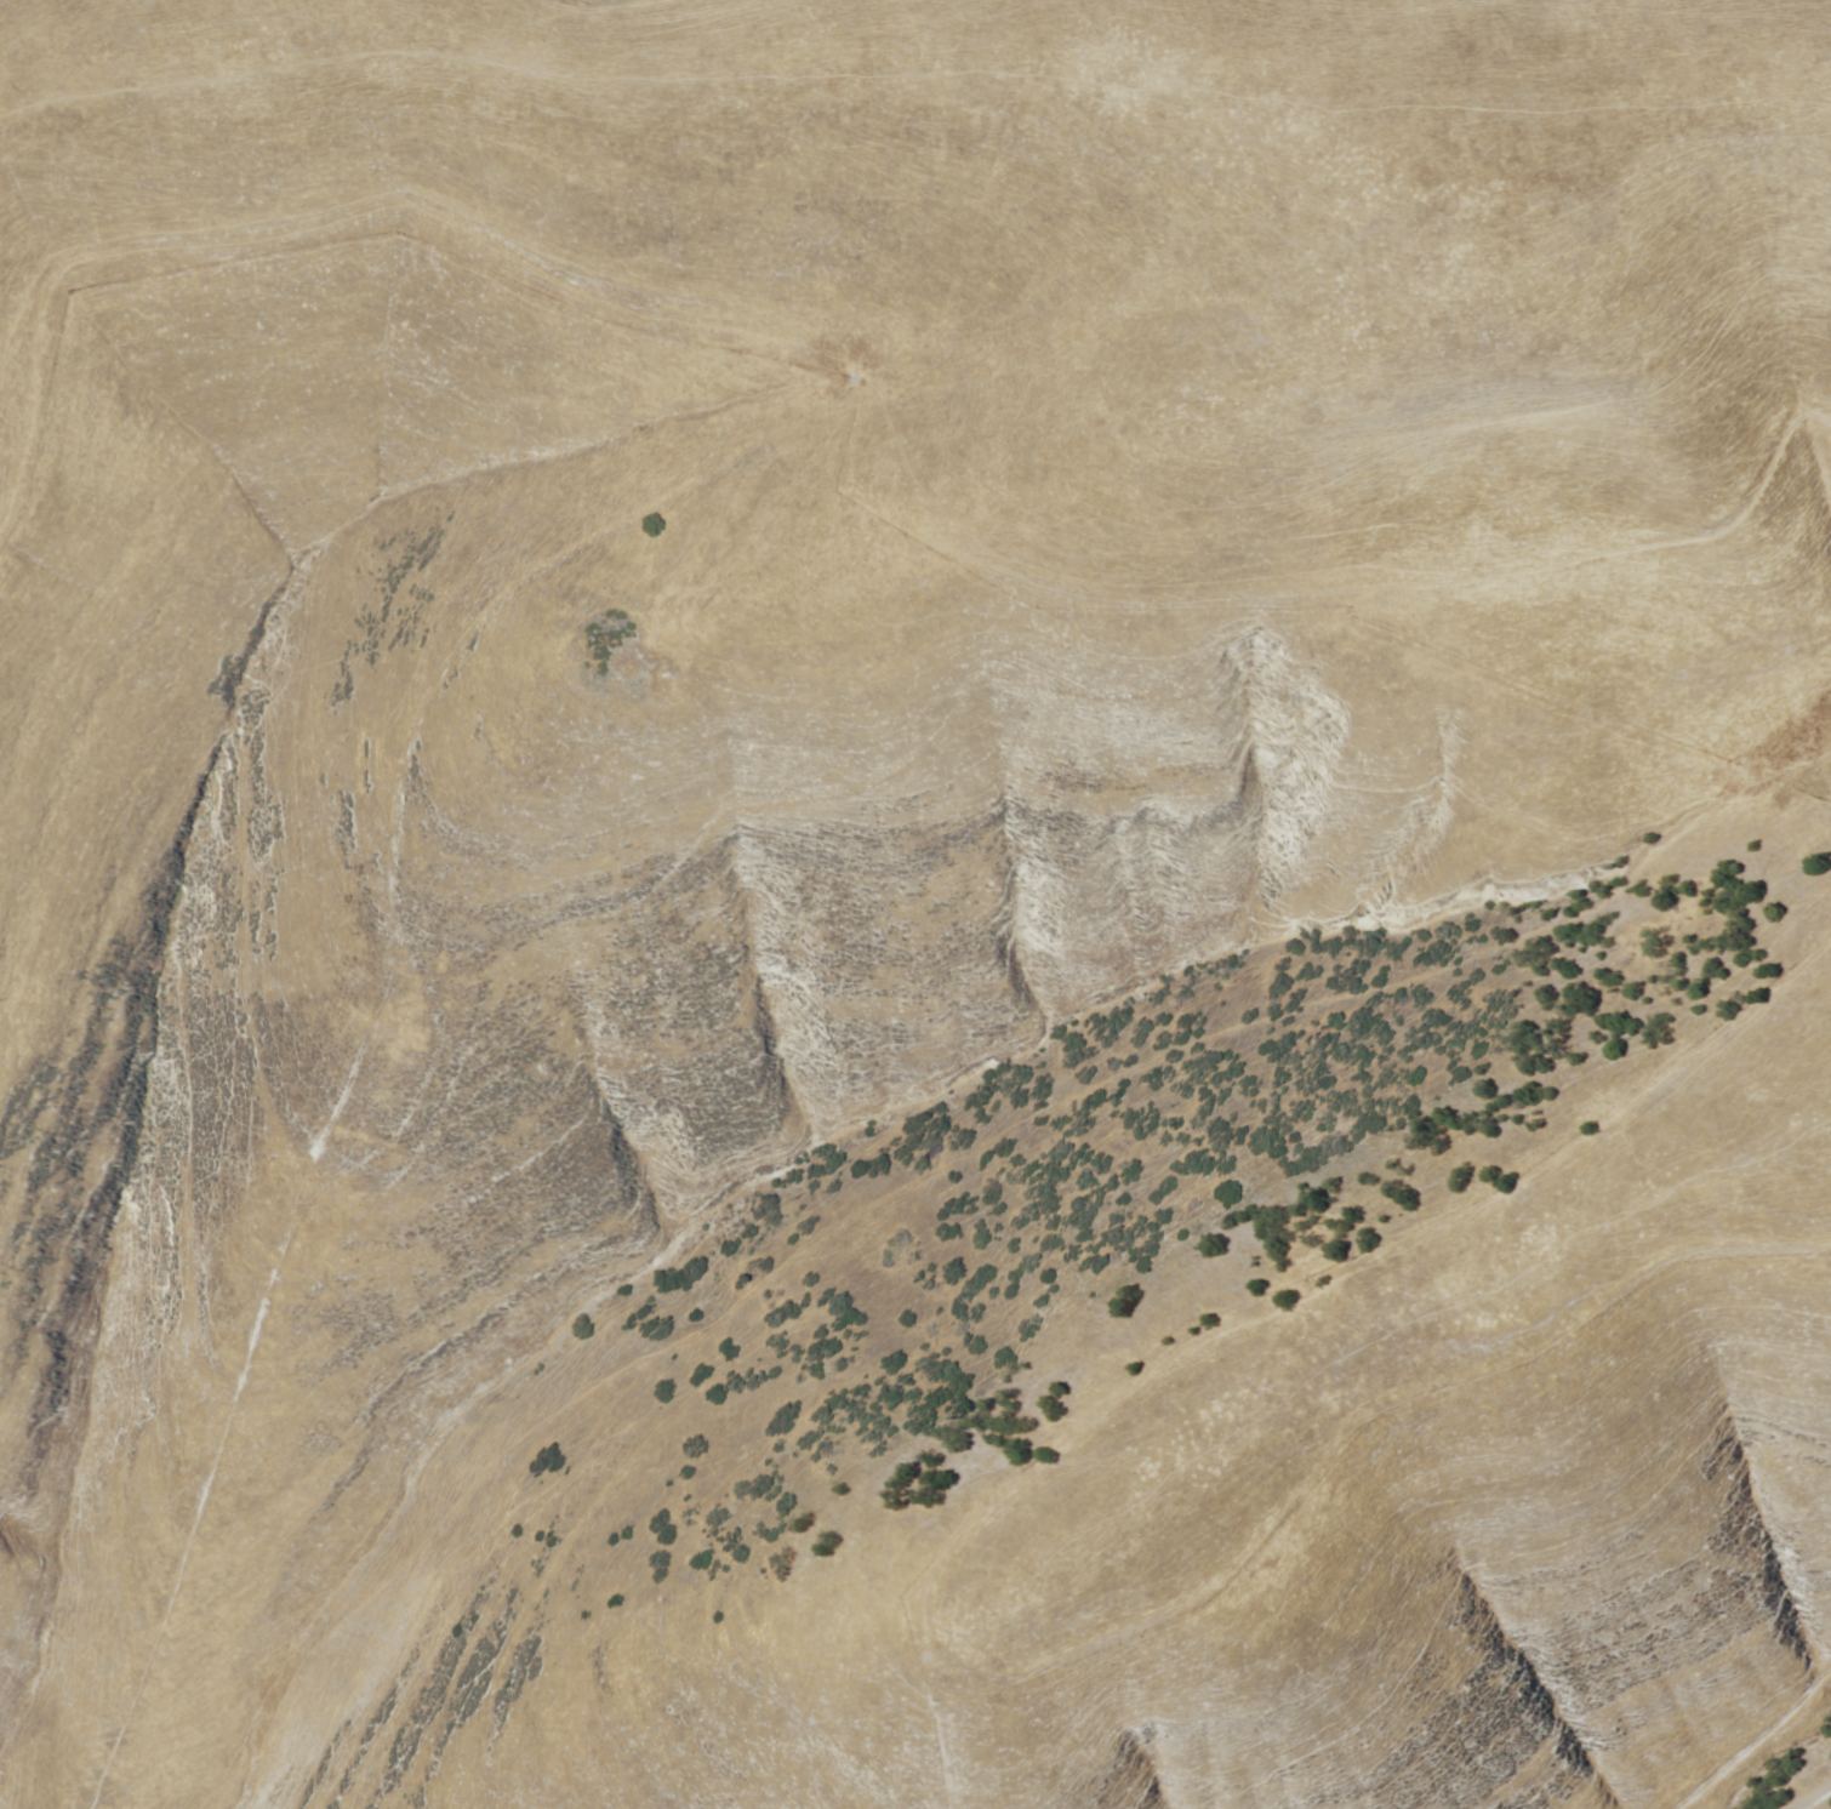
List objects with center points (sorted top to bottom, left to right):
road: (617, 17)

